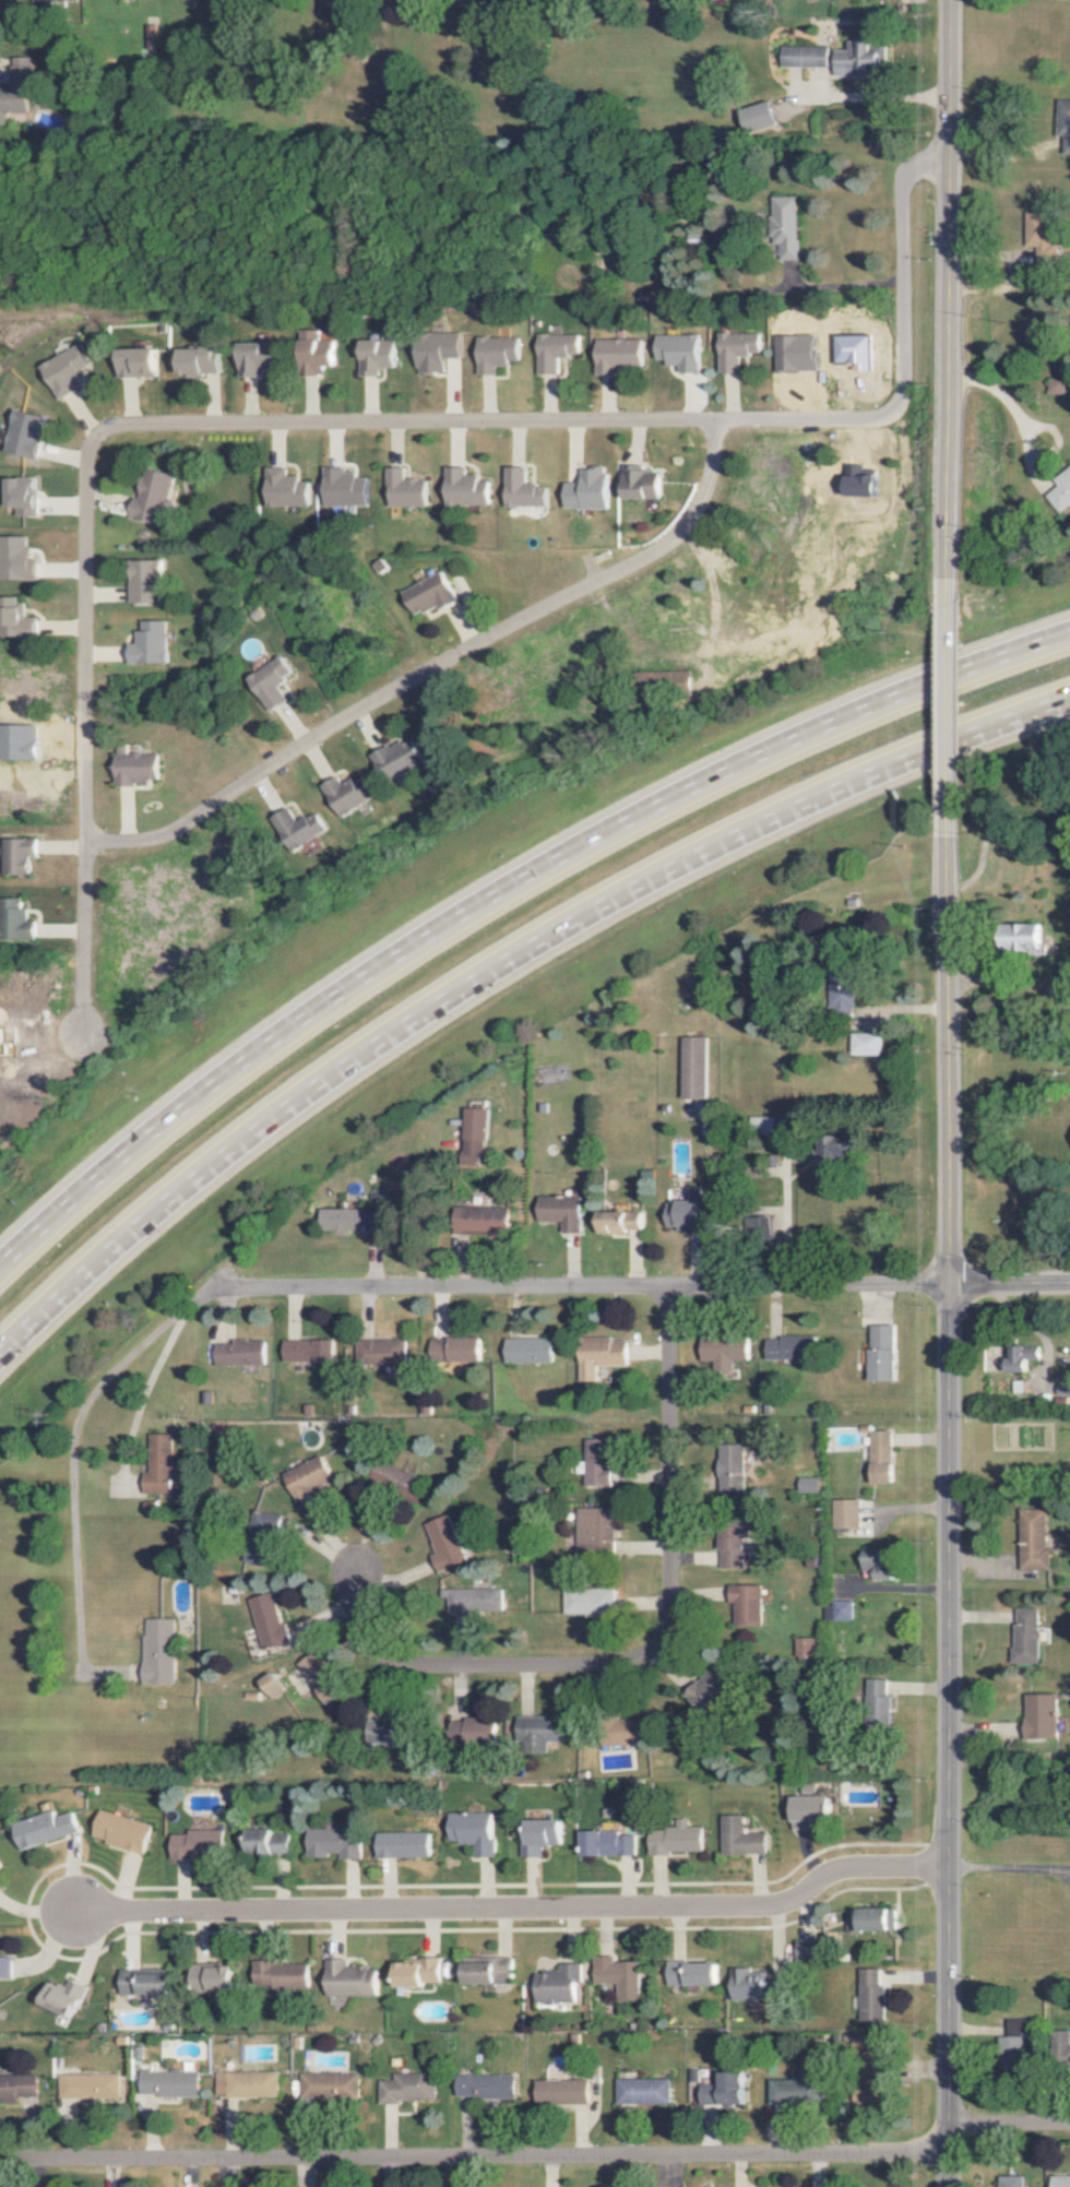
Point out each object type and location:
building: (49, 1)
building: (801, 56)
building: (857, 59)
building: (13, 85)
building: (758, 116)
building: (1063, 124)
building: (782, 226)
building: (1038, 237)
road: (840, 283)
road: (950, 289)
building: (732, 349)
building: (549, 350)
building: (675, 350)
building: (851, 350)
building: (313, 352)
building: (431, 352)
building: (794, 352)
building: (490, 353)
building: (614, 354)
building: (372, 356)
building: (253, 357)
building: (195, 360)
building: (135, 361)
building: (62, 370)
building: (1051, 385)
road: (1004, 406)
road: (641, 423)
building: (23, 432)
building: (859, 480)
building: (639, 483)
building: (283, 488)
building: (342, 488)
building: (462, 488)
building: (402, 489)
building: (520, 489)
building: (585, 489)
building: (1059, 491)
building: (22, 496)
building: (152, 496)
building: (15, 559)
building: (142, 581)
building: (428, 593)
building: (14, 619)
building: (146, 643)
road: (431, 665)
building: (663, 678)
building: (269, 682)
road: (948, 705)
road: (80, 730)
building: (17, 741)
building: (394, 757)
building: (135, 768)
building: (344, 794)
building: (295, 828)
building: (15, 855)
road: (500, 895)
building: (14, 920)
building: (1029, 935)
road: (497, 965)
building: (845, 1001)
building: (868, 1043)
building: (693, 1067)
building: (474, 1137)
building: (842, 1149)
building: (689, 1210)
building: (566, 1212)
building: (353, 1217)
building: (484, 1220)
building: (622, 1221)
road: (785, 1224)
road: (1011, 1280)
road: (584, 1286)
road: (200, 1299)
building: (788, 1347)
building: (459, 1348)
building: (312, 1350)
building: (532, 1350)
building: (384, 1351)
building: (245, 1352)
building: (725, 1352)
building: (882, 1352)
building: (604, 1355)
building: (1023, 1357)
building: (882, 1455)
building: (597, 1461)
building: (162, 1464)
building: (732, 1467)
road: (73, 1471)
building: (310, 1475)
building: (809, 1484)
road: (950, 1509)
building: (846, 1513)
building: (594, 1531)
building: (1036, 1540)
building: (267, 1542)
building: (444, 1543)
building: (732, 1550)
building: (883, 1564)
building: (476, 1600)
building: (588, 1601)
building: (747, 1603)
building: (839, 1609)
building: (270, 1620)
building: (1027, 1636)
road: (653, 1647)
building: (804, 1647)
building: (159, 1651)
building: (321, 1677)
building: (274, 1685)
building: (708, 1690)
building: (881, 1703)
building: (1042, 1715)
building: (542, 1728)
building: (401, 1732)
building: (481, 1733)
building: (812, 1811)
building: (47, 1828)
building: (123, 1831)
building: (475, 1831)
building: (542, 1835)
building: (742, 1838)
building: (677, 1840)
building: (271, 1841)
building: (336, 1843)
building: (608, 1843)
building: (201, 1844)
building: (405, 1844)
building: (2, 1864)
road: (1008, 1864)
building: (2, 1883)
road: (513, 1906)
building: (876, 1918)
building: (817, 1947)
building: (8, 1965)
building: (490, 1970)
building: (419, 1971)
building: (694, 1973)
building: (283, 1974)
building: (218, 1976)
building: (620, 1976)
building: (352, 1978)
building: (150, 1981)
building: (560, 1984)
building: (758, 1985)
building: (873, 1995)
building: (68, 1996)
building: (1014, 2036)
building: (894, 2072)
building: (173, 2083)
building: (249, 2083)
building: (92, 2085)
building: (487, 2085)
building: (19, 2087)
building: (331, 2087)
building: (409, 2088)
building: (718, 2089)
building: (644, 2090)
building: (798, 2090)
building: (563, 2091)
building: (870, 2096)
road: (1007, 2124)
road: (475, 2156)
building: (1060, 2180)
building: (1012, 2182)

